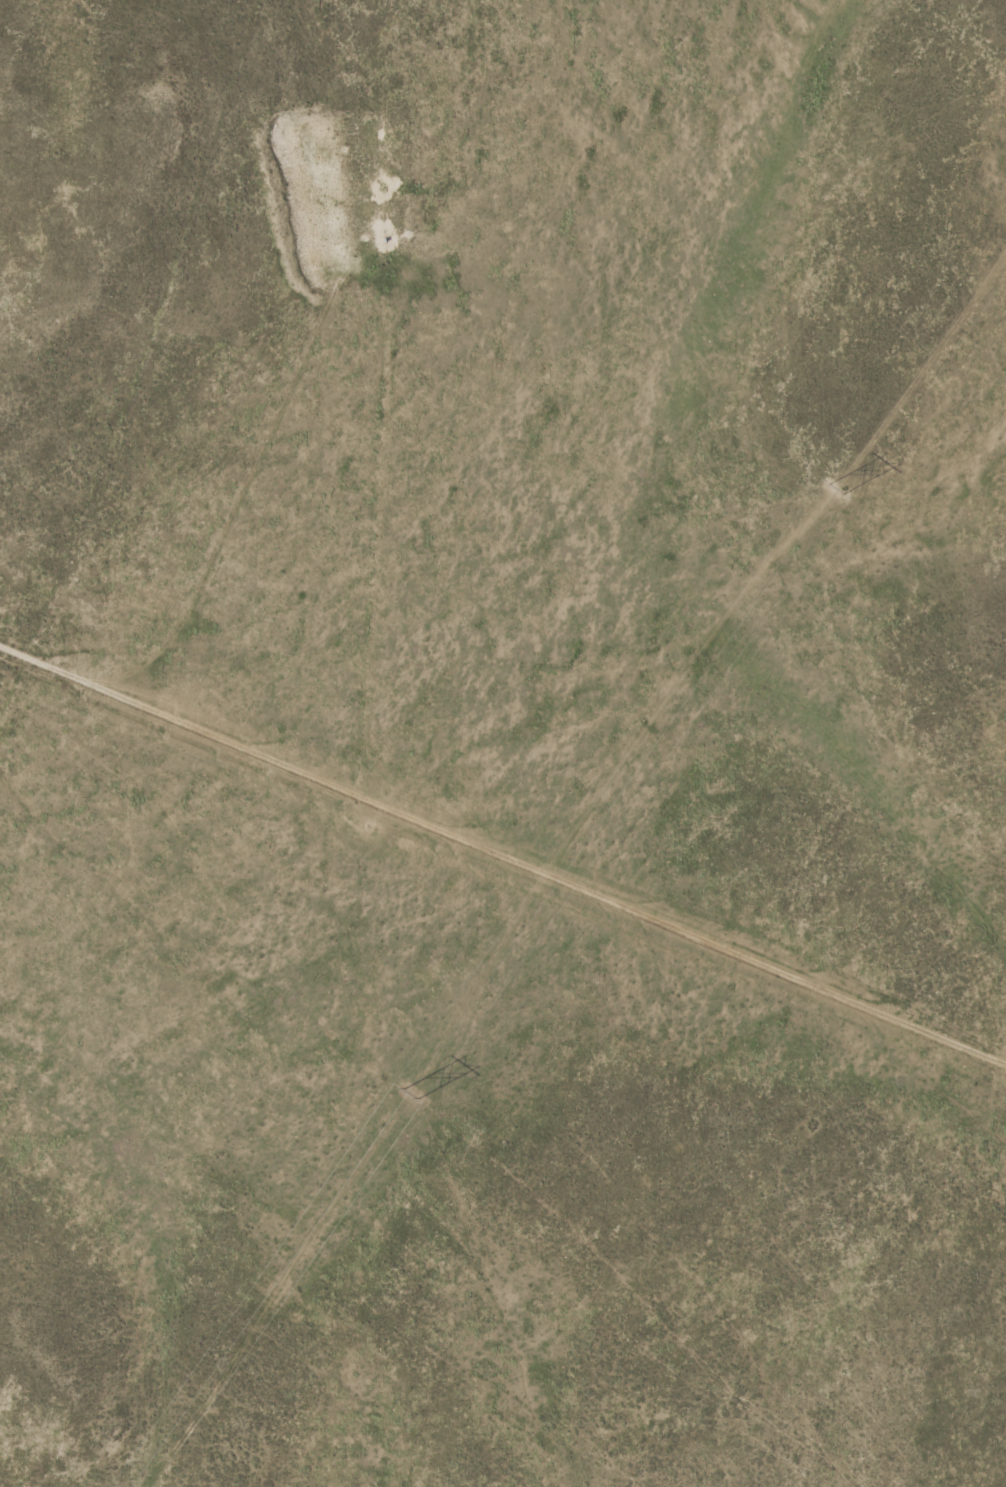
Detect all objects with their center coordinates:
power tower: (826, 494)
power tower: (404, 1095)

